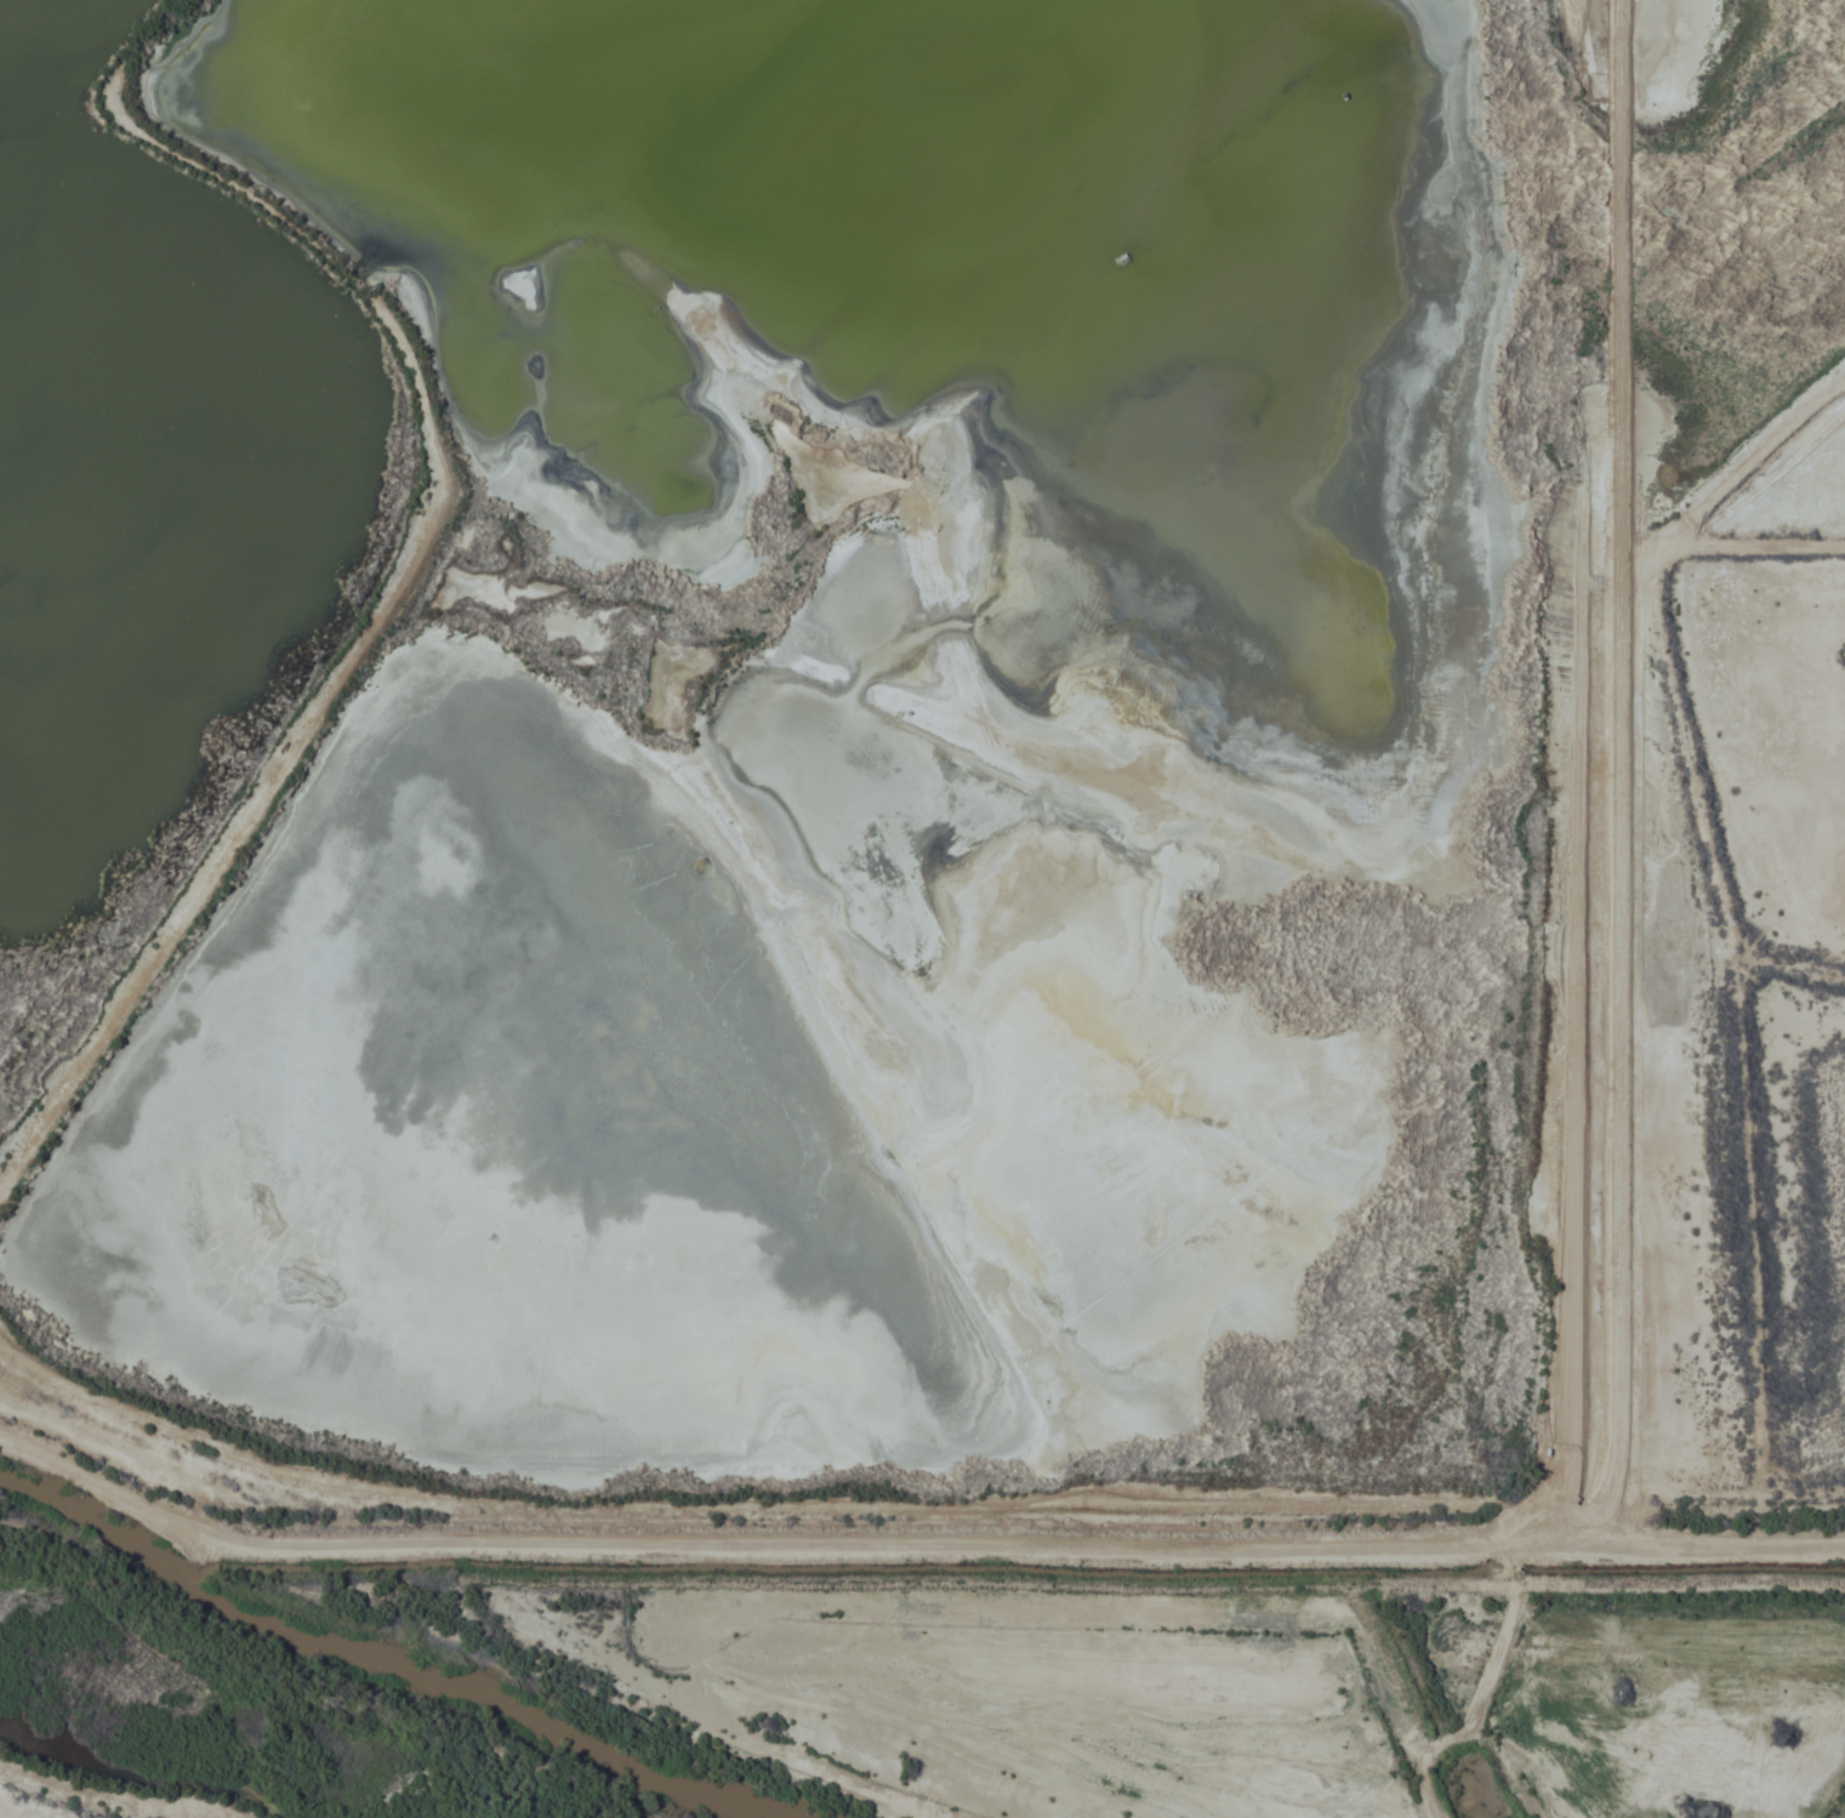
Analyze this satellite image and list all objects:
road: (915, 1535)
river: (399, 1672)

